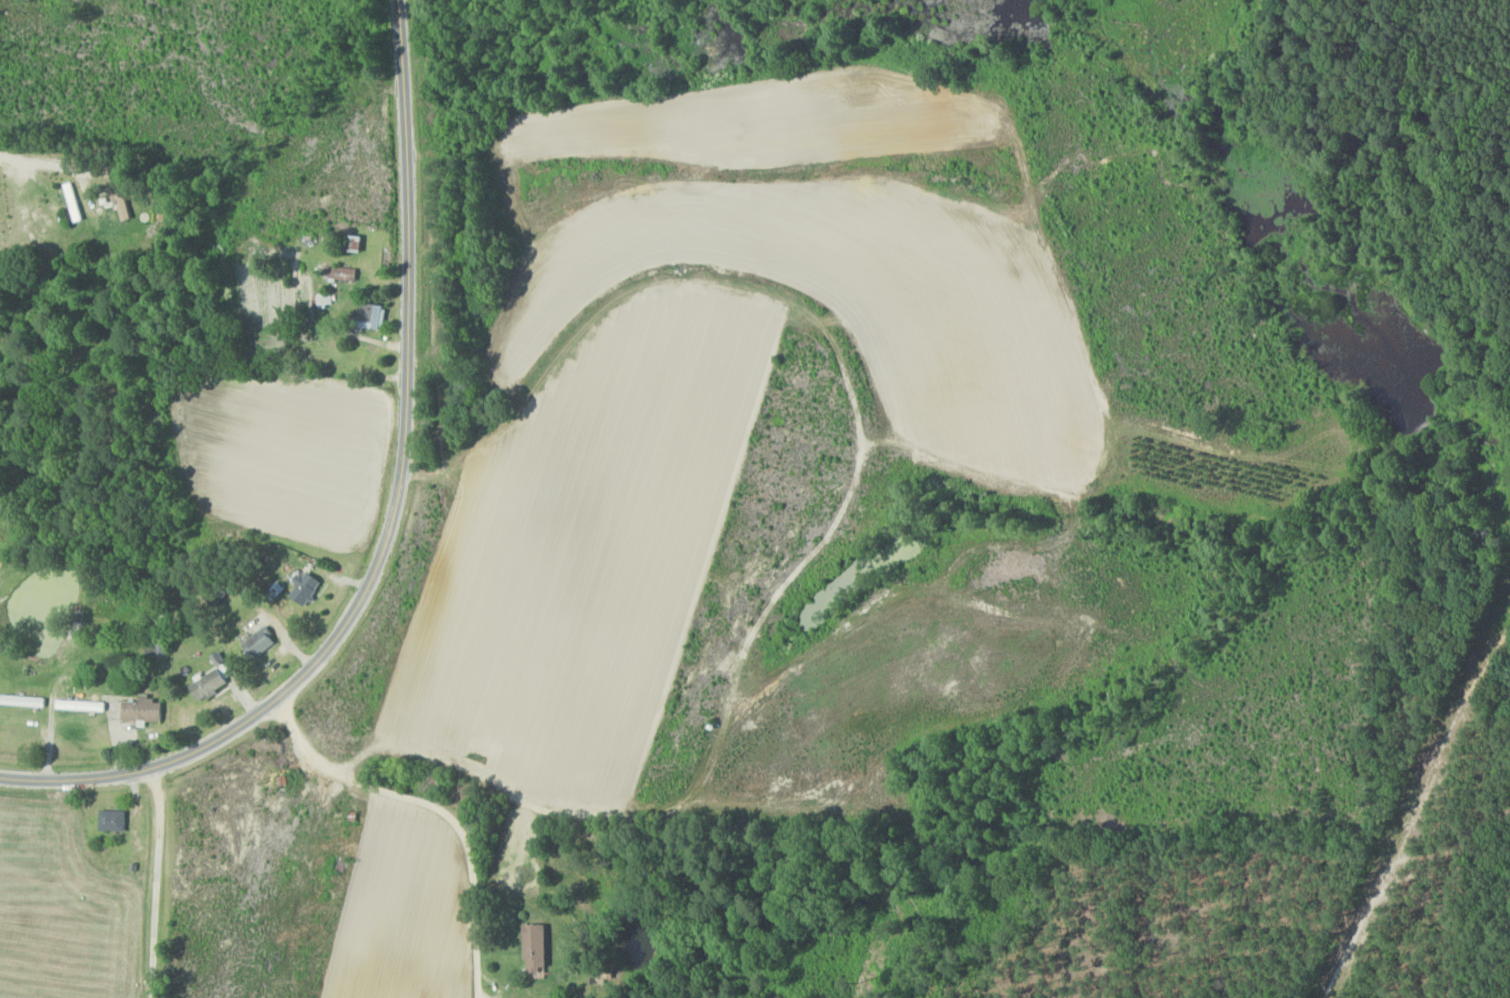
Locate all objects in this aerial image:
road: (38, 164)
building: (75, 200)
building: (359, 241)
building: (342, 273)
building: (374, 314)
road: (395, 518)
building: (310, 589)
building: (263, 643)
building: (214, 683)
building: (87, 705)
building: (146, 710)
road: (442, 806)
building: (116, 821)
road: (156, 883)
building: (538, 948)

